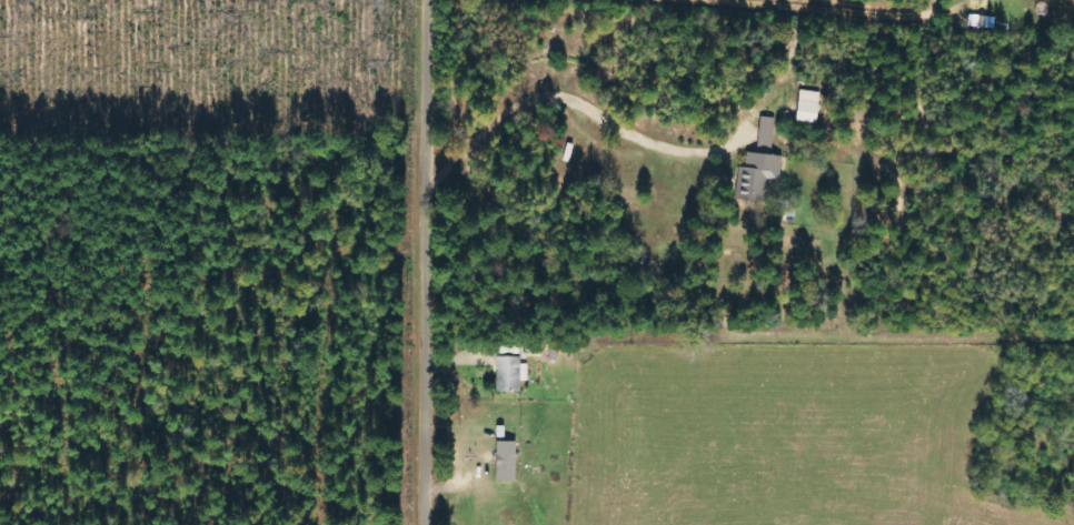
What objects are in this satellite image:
building: (806, 107)
road: (756, 150)
building: (758, 166)
road: (435, 262)
road: (636, 336)
building: (505, 460)

